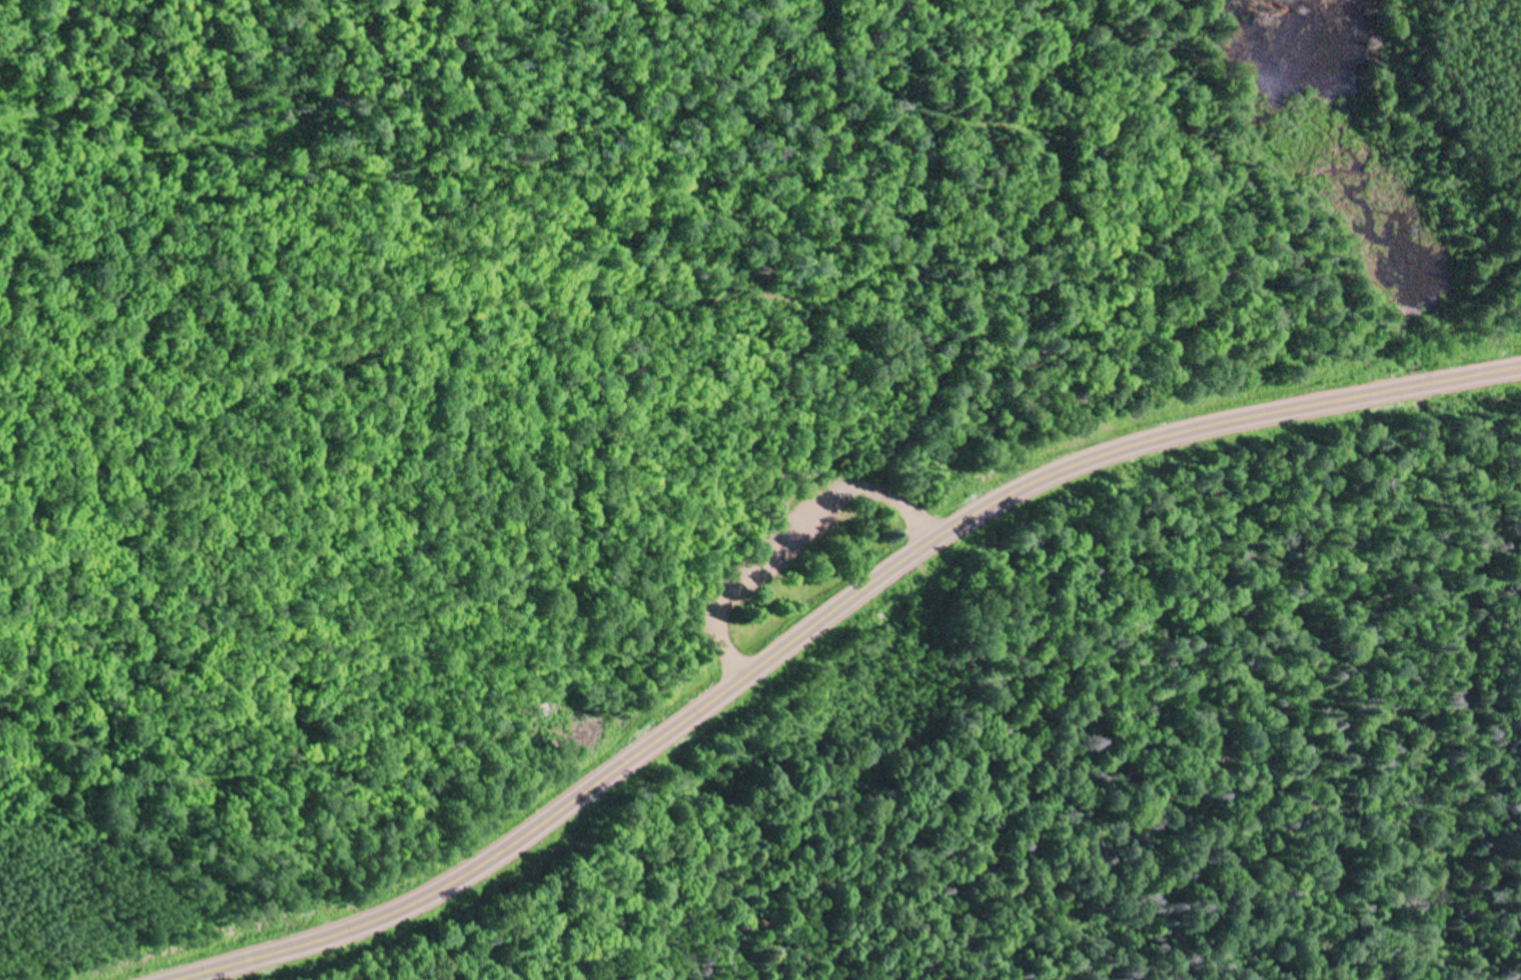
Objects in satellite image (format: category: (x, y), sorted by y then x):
road: (1190, 377)
road: (246, 399)
road: (828, 493)
road: (908, 516)
parking lot: (814, 534)
road: (721, 597)
road: (824, 619)

